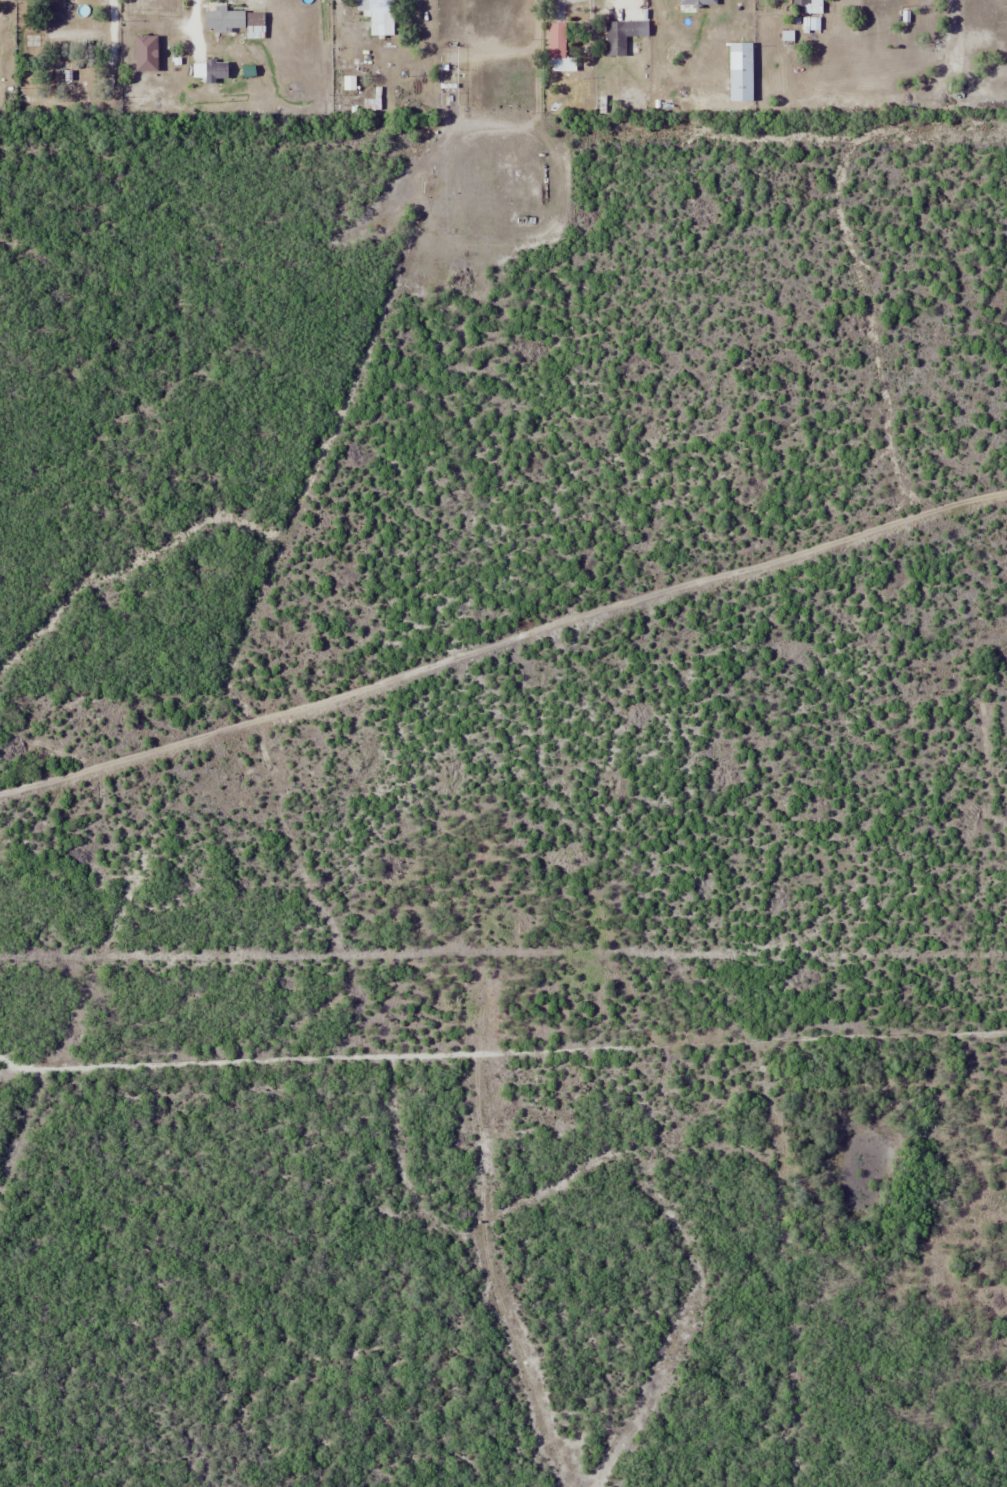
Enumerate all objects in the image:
building: (698, 2)
building: (808, 6)
building: (379, 15)
building: (225, 19)
road: (110, 25)
building: (619, 36)
building: (558, 48)
building: (740, 71)

